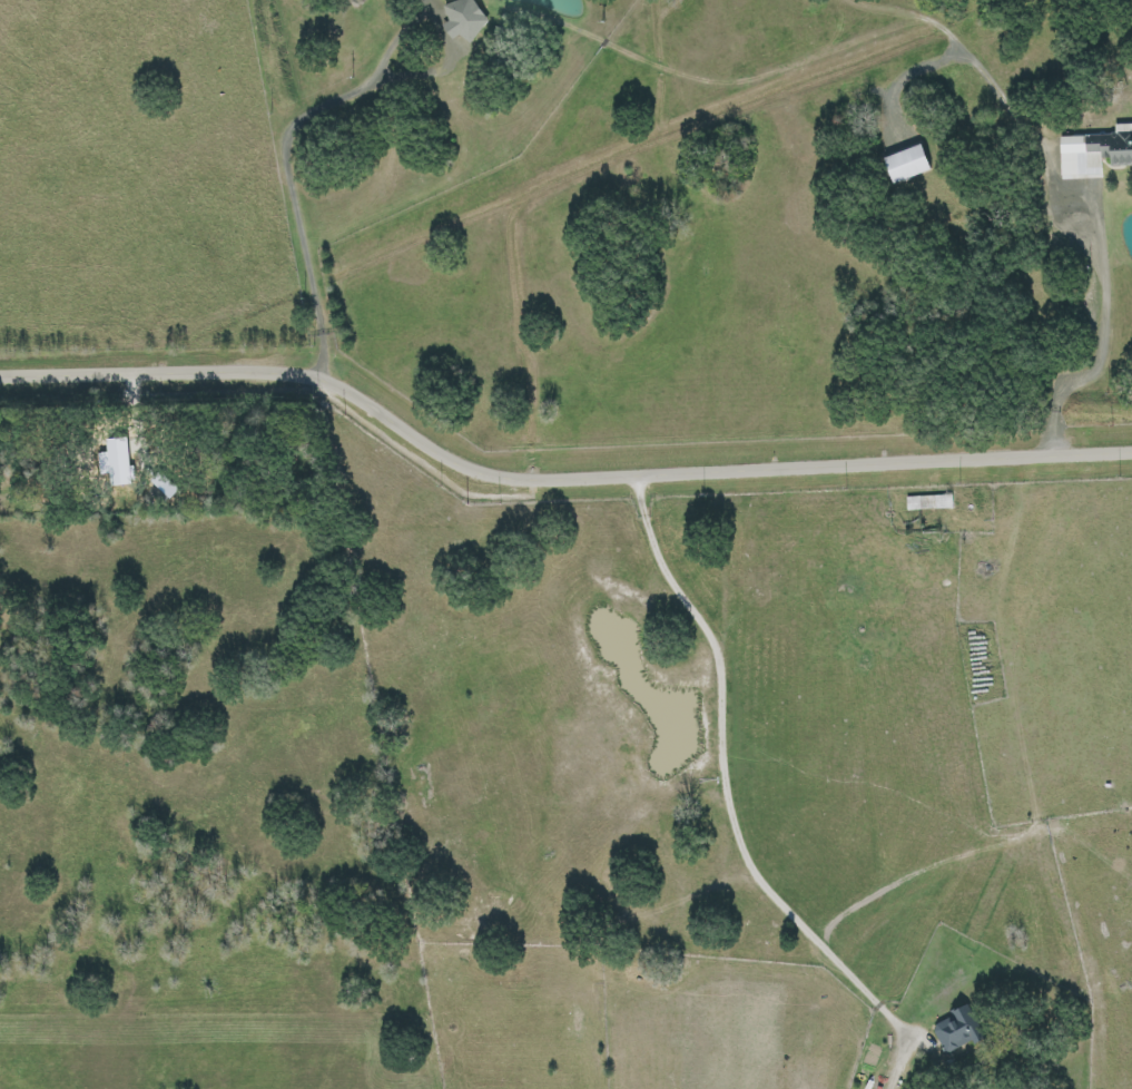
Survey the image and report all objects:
road: (900, 73)
building: (1095, 151)
road: (288, 160)
building: (909, 164)
road: (1077, 183)
road: (553, 482)
building: (167, 484)
road: (730, 791)
building: (956, 1030)

